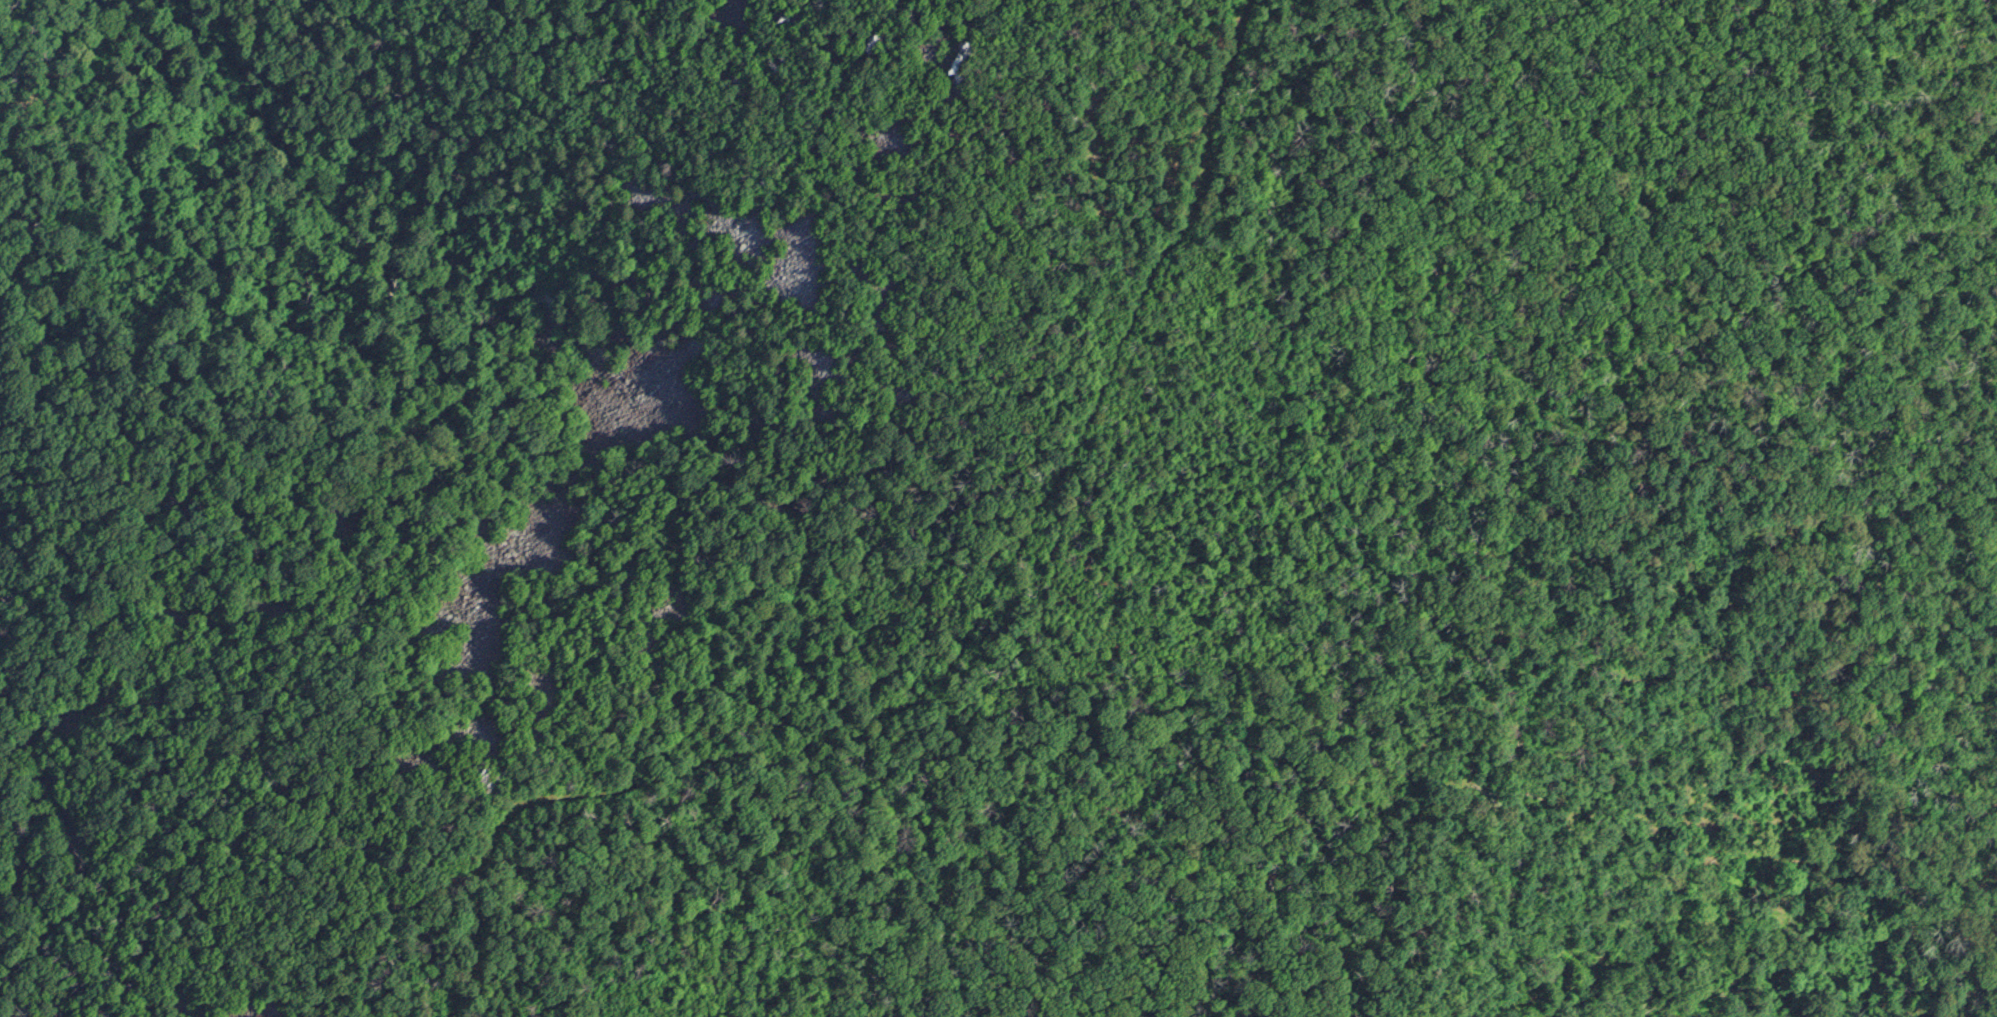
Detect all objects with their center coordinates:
road: (1390, 560)
road: (959, 643)

